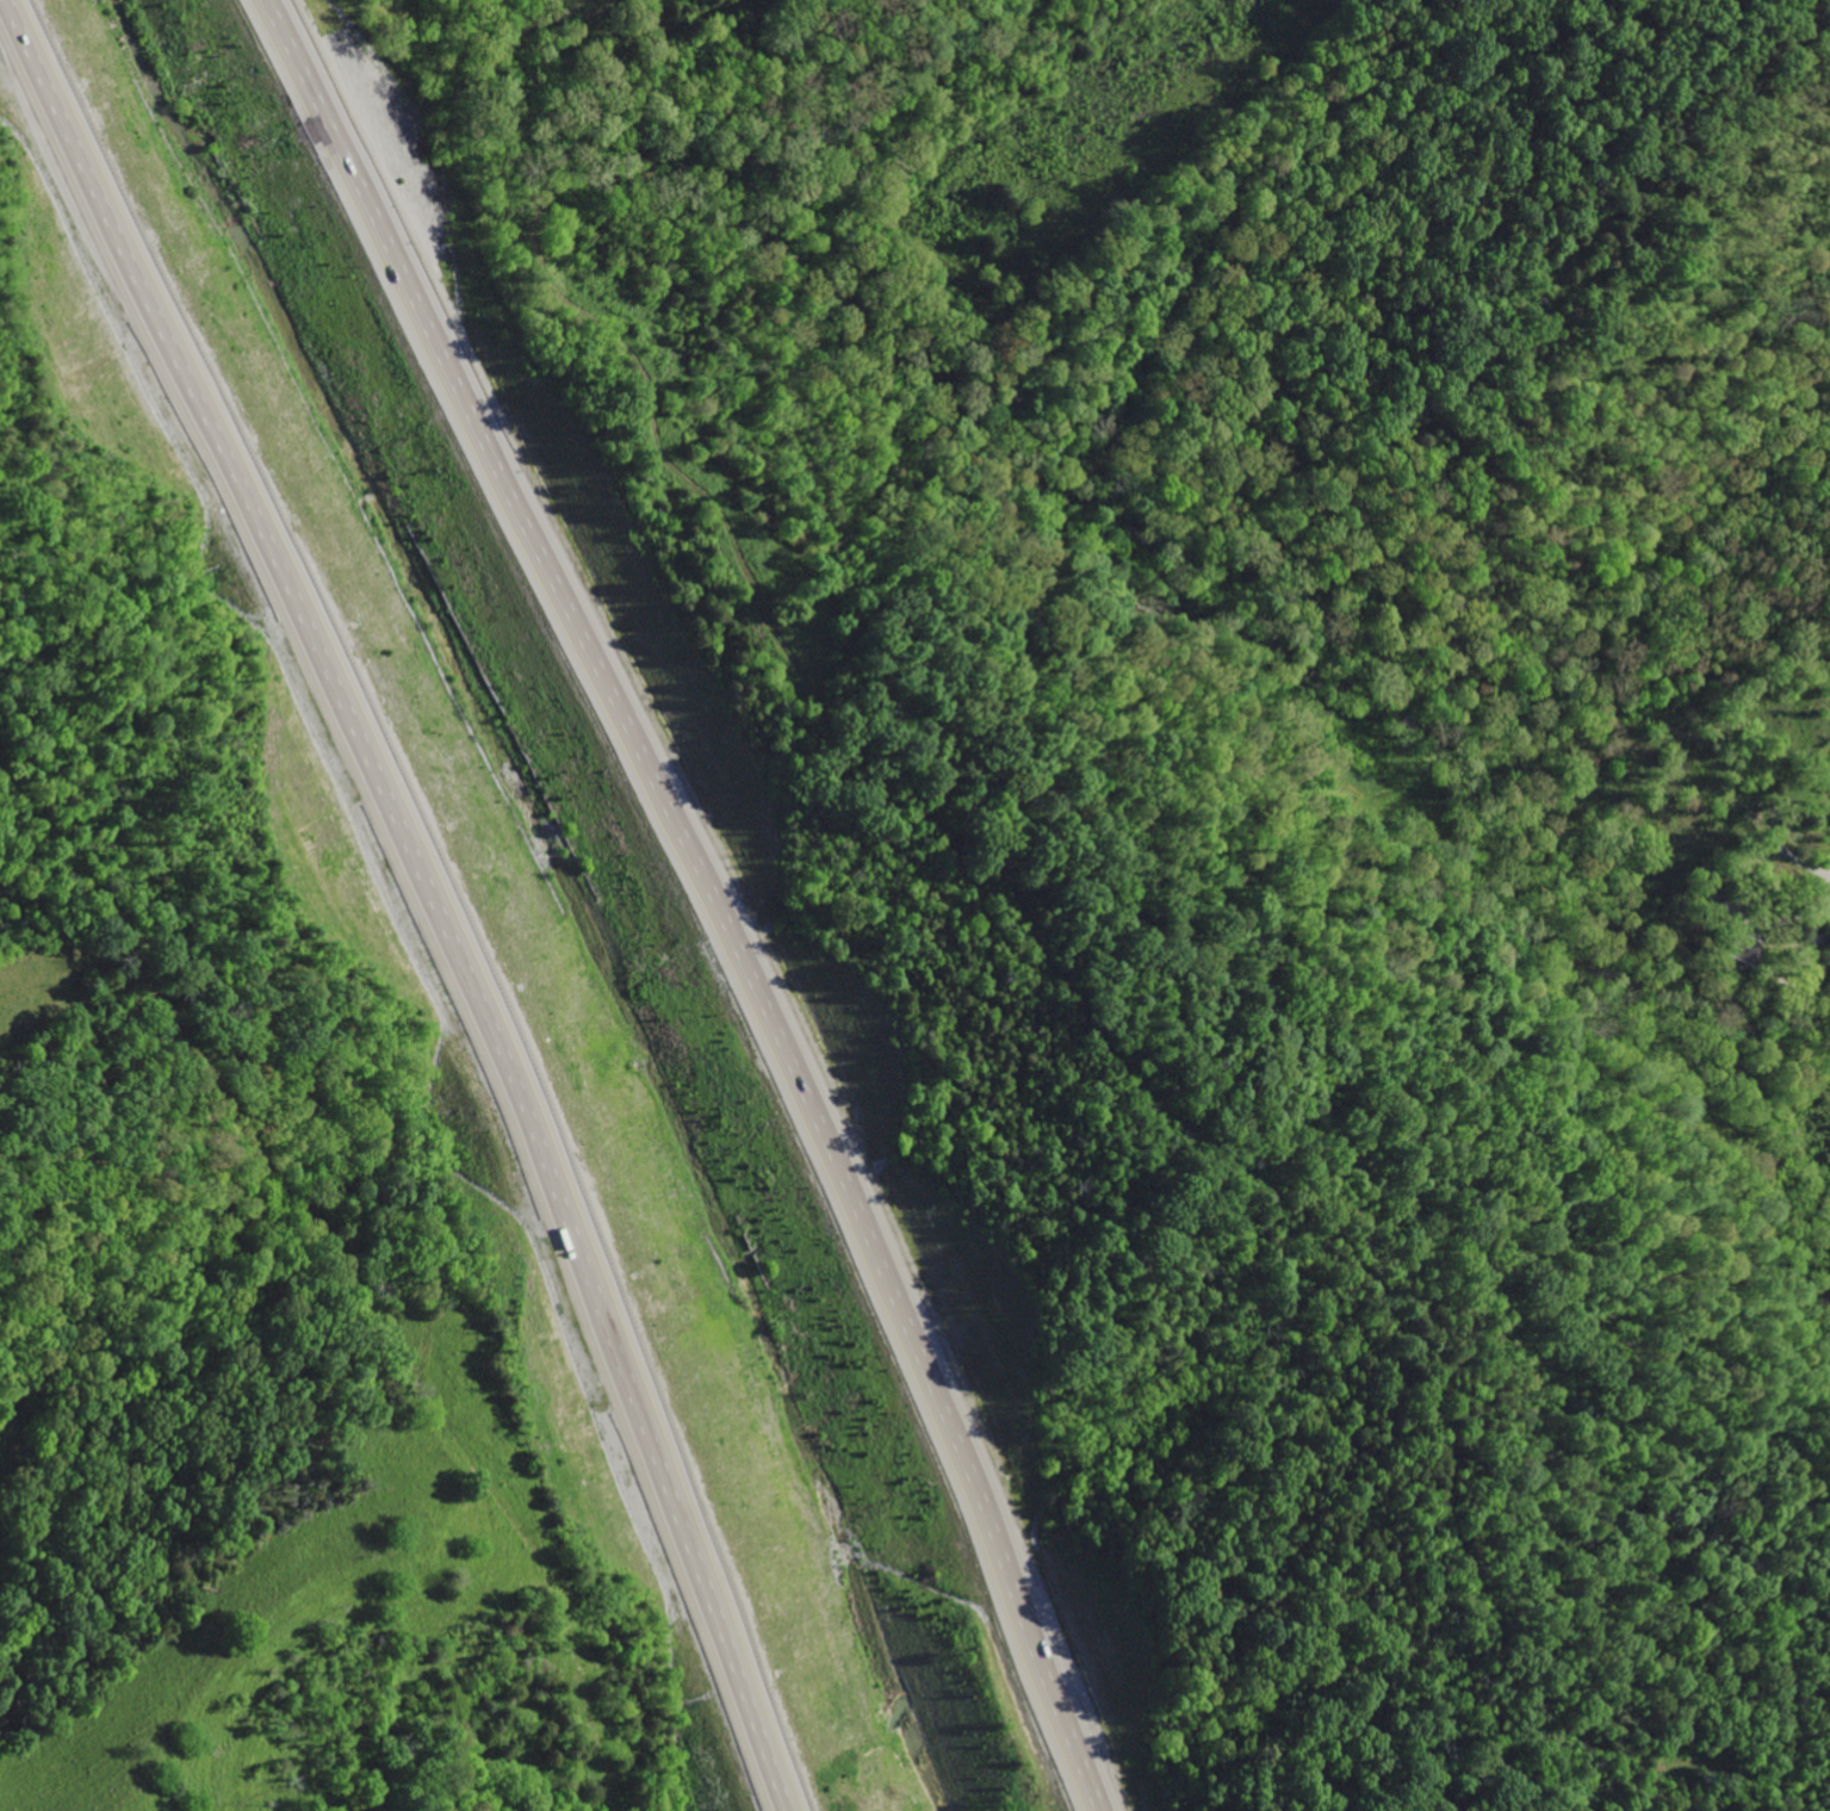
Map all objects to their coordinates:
road: (423, 892)
road: (730, 892)

